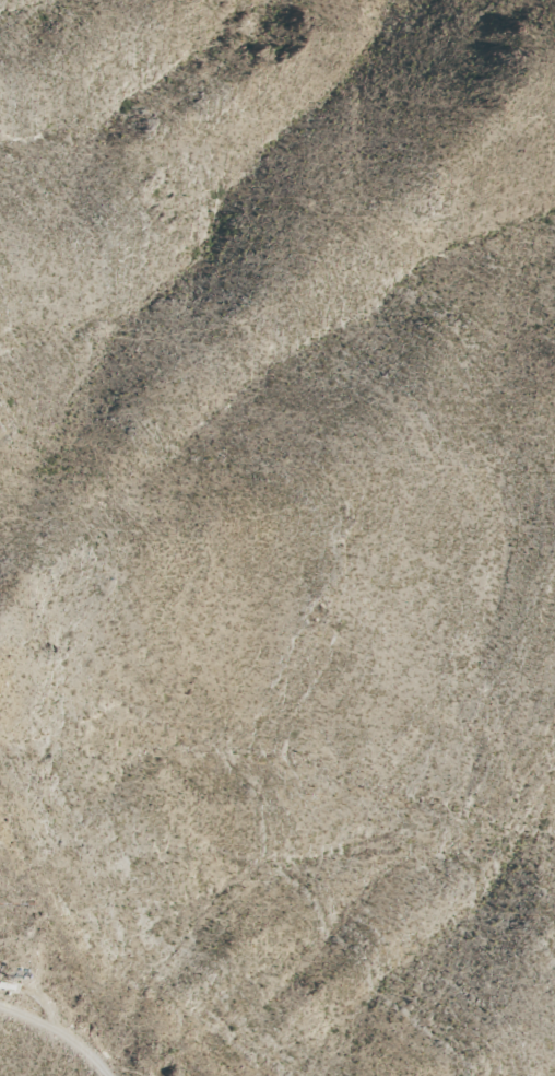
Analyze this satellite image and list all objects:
road: (52, 1036)

